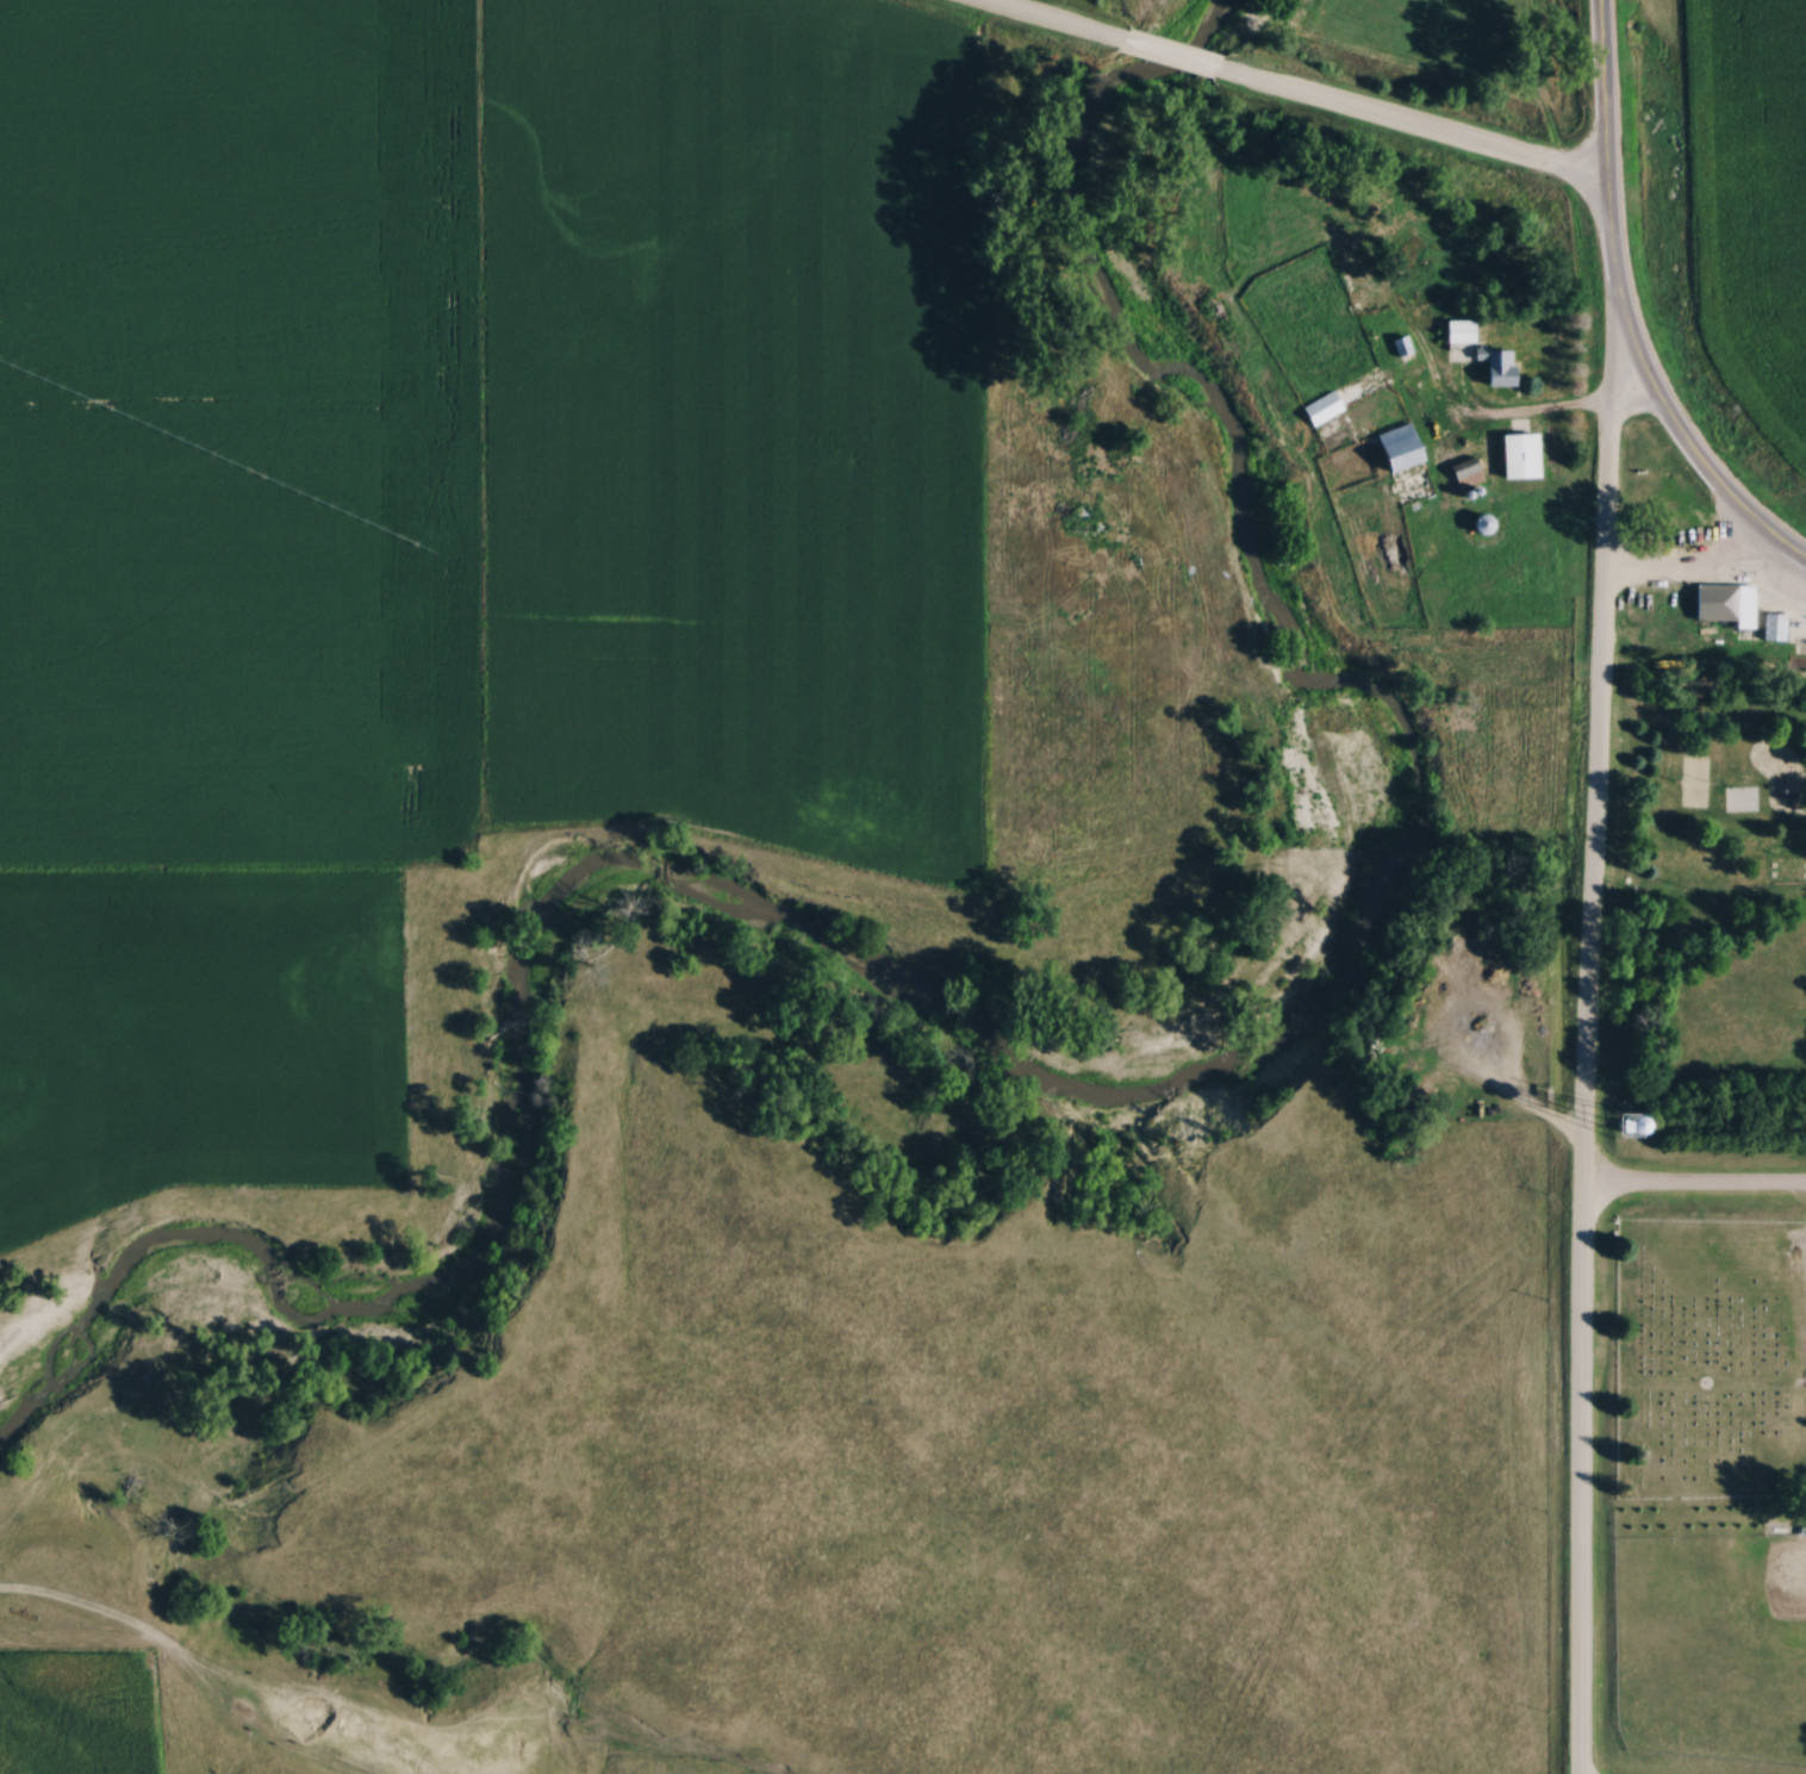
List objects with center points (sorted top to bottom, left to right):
road: (1046, 20)
road: (1172, 56)
road: (1415, 125)
road: (1625, 312)
building: (1457, 331)
building: (1495, 366)
building: (1319, 409)
road: (1519, 417)
building: (1394, 448)
building: (1518, 456)
building: (1465, 473)
building: (1076, 524)
building: (1726, 604)
building: (1774, 625)
road: (1588, 1033)
road: (1514, 1096)
water tower: (1624, 1126)
road: (1694, 1187)

